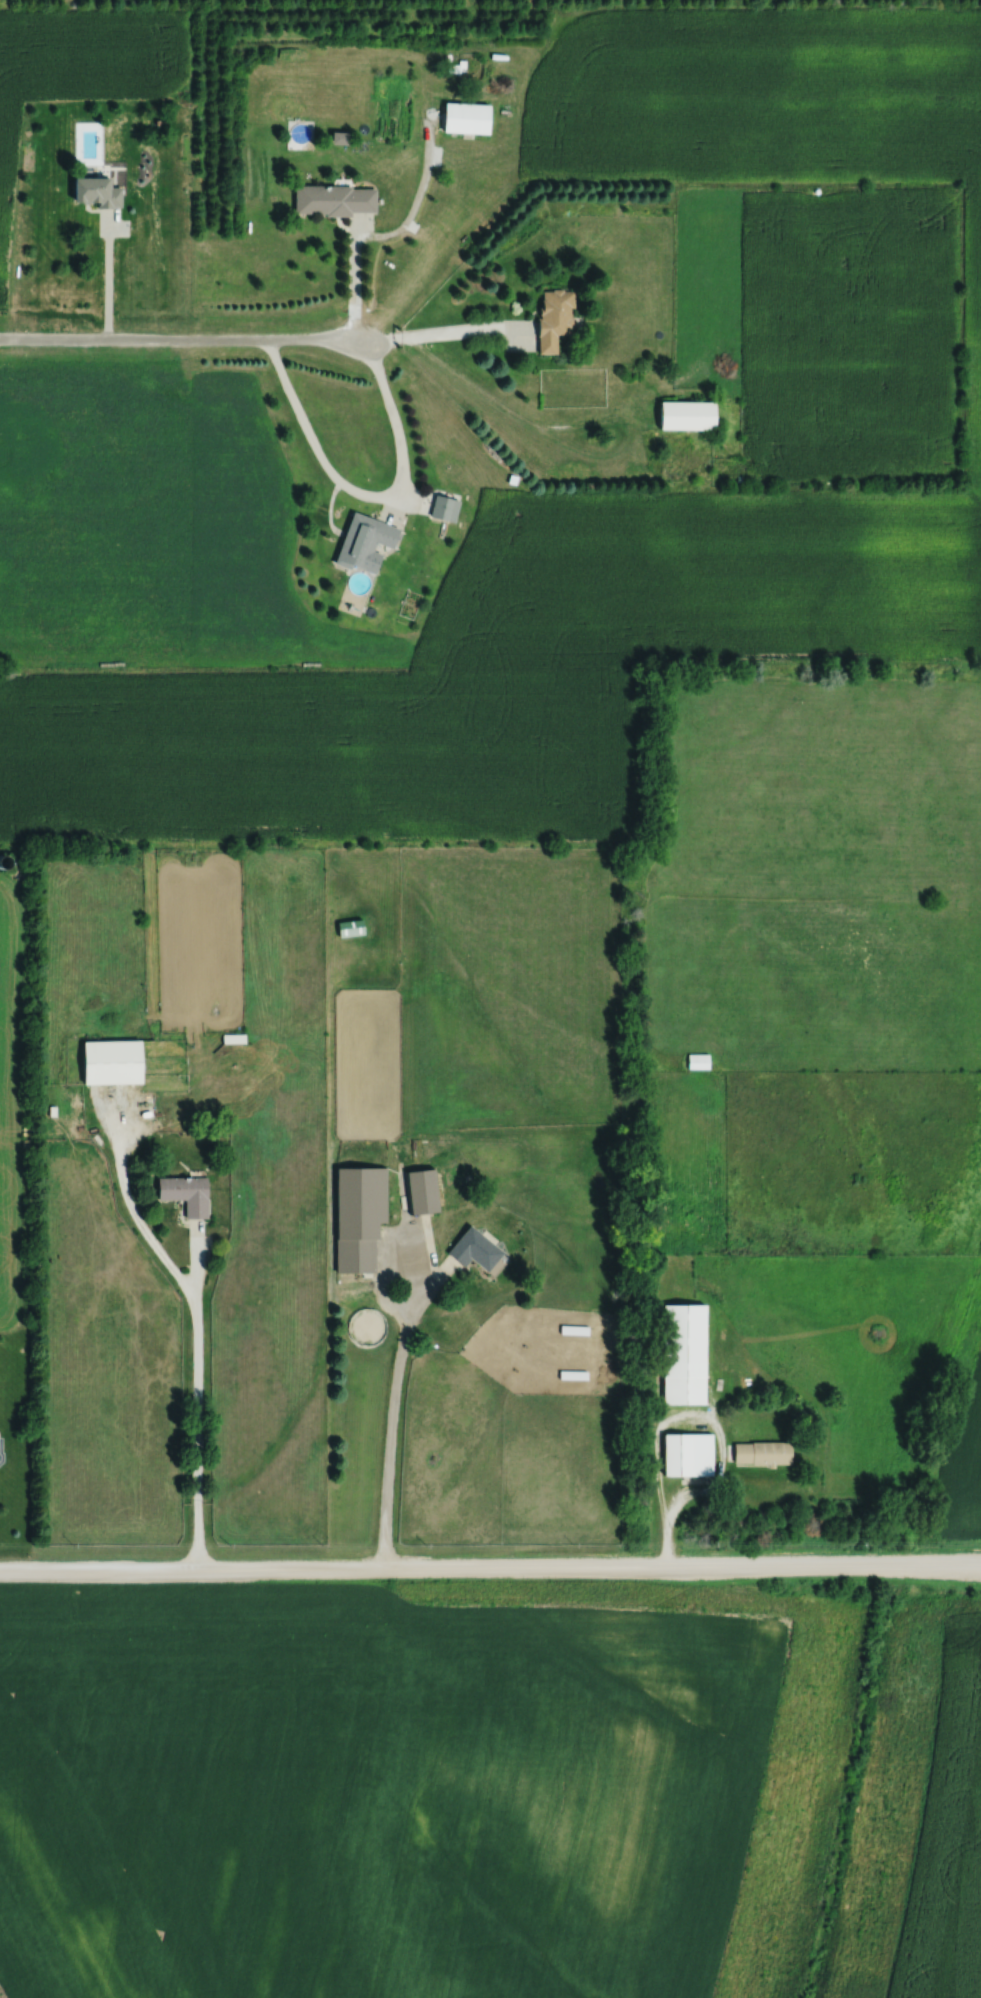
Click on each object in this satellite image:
building: (466, 118)
building: (97, 192)
building: (334, 200)
road: (108, 276)
road: (354, 280)
building: (554, 318)
road: (440, 332)
road: (180, 336)
building: (688, 417)
road: (365, 494)
building: (444, 509)
building: (365, 543)
building: (112, 1061)
building: (698, 1061)
building: (422, 1191)
building: (186, 1193)
building: (358, 1218)
building: (474, 1249)
road: (194, 1327)
building: (683, 1354)
road: (391, 1411)
building: (0, 1450)
building: (762, 1453)
building: (687, 1454)
road: (490, 1562)

